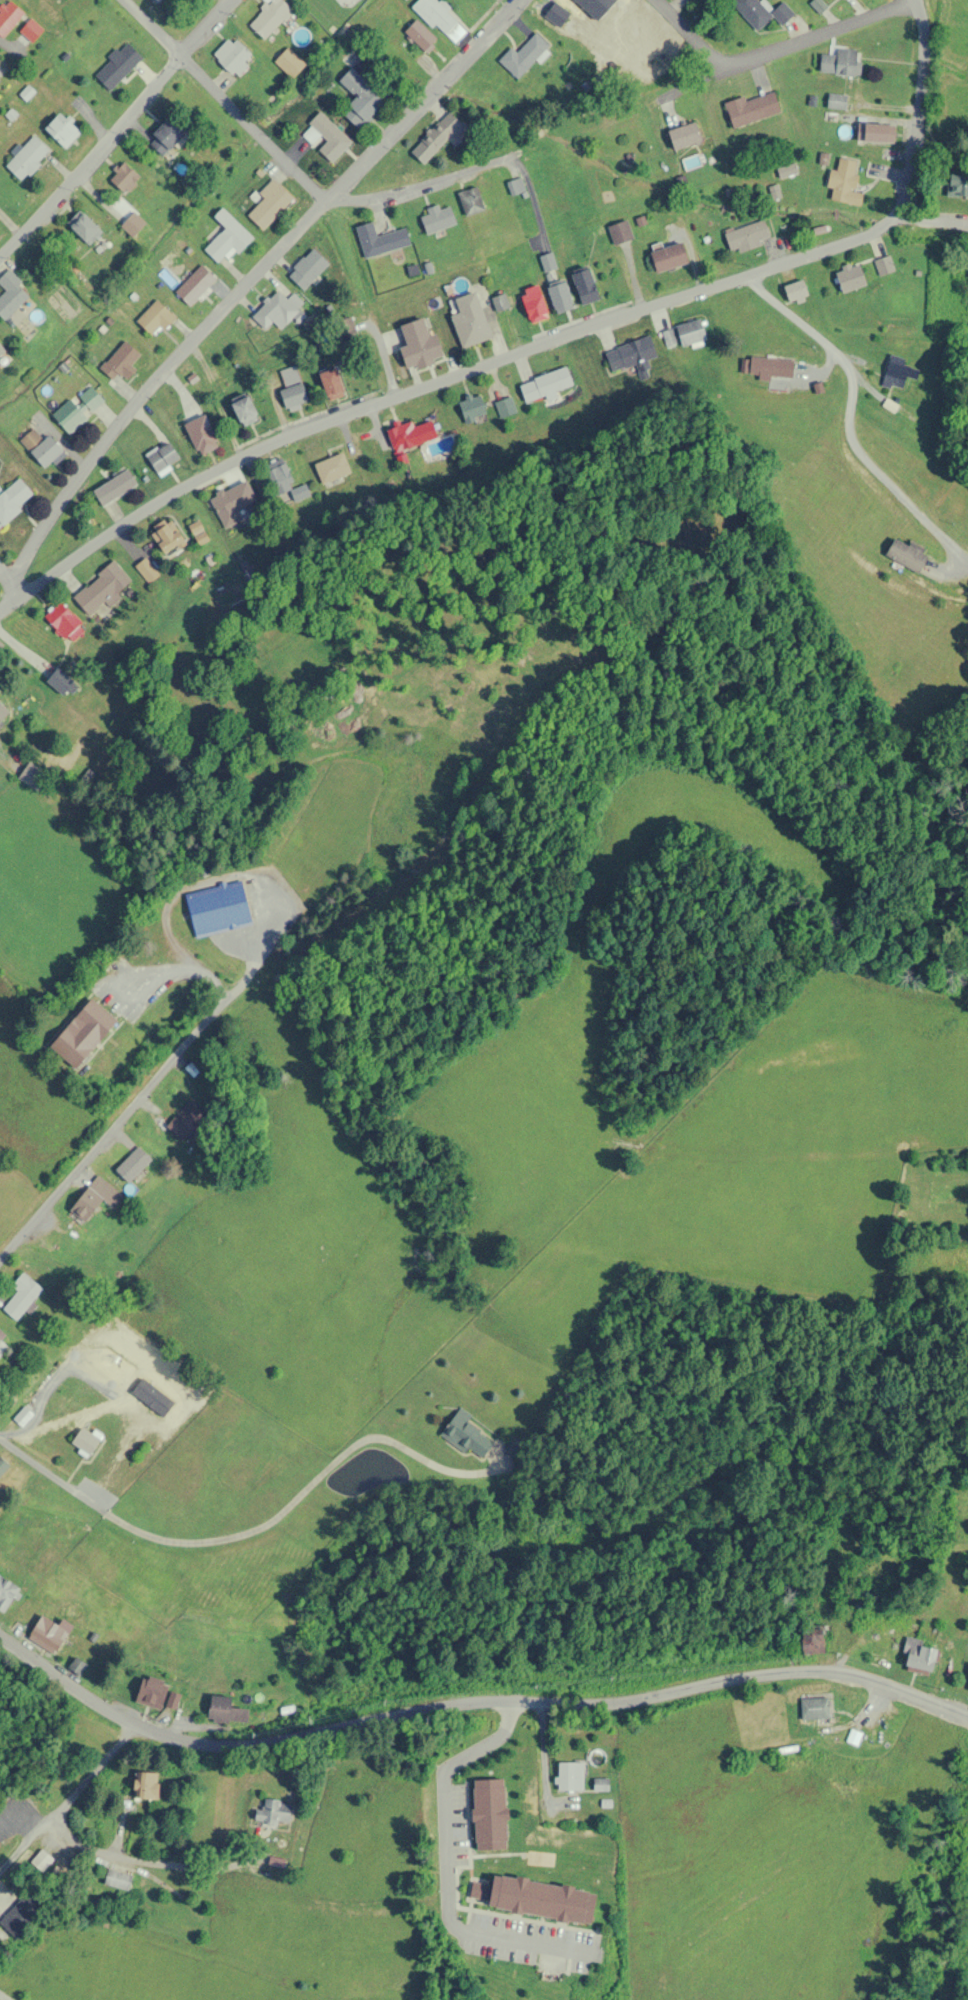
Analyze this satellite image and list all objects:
building: (157, 1)
building: (761, 12)
building: (435, 15)
building: (268, 16)
building: (9, 17)
building: (30, 30)
building: (419, 35)
road: (685, 40)
road: (817, 46)
building: (232, 55)
building: (523, 55)
building: (290, 62)
building: (845, 62)
building: (117, 65)
building: (359, 98)
road: (225, 99)
building: (751, 109)
road: (918, 110)
road: (116, 126)
building: (63, 130)
building: (877, 132)
building: (445, 133)
building: (165, 135)
building: (684, 135)
building: (325, 137)
building: (27, 157)
building: (124, 177)
building: (845, 182)
building: (515, 185)
building: (957, 185)
road: (419, 186)
building: (470, 200)
building: (269, 204)
building: (436, 218)
building: (130, 226)
building: (84, 227)
building: (619, 232)
building: (747, 236)
building: (227, 237)
building: (380, 240)
building: (668, 257)
building: (548, 262)
building: (883, 265)
building: (307, 268)
building: (849, 277)
road: (246, 283)
building: (194, 285)
building: (584, 286)
building: (795, 290)
building: (11, 294)
building: (559, 296)
building: (500, 302)
building: (533, 304)
building: (275, 310)
building: (154, 318)
building: (469, 321)
building: (690, 332)
building: (668, 338)
building: (418, 345)
building: (2, 351)
building: (628, 355)
building: (122, 362)
road: (467, 364)
road: (381, 367)
building: (771, 368)
building: (895, 373)
building: (331, 384)
building: (545, 384)
building: (291, 388)
building: (78, 409)
building: (243, 409)
building: (472, 409)
road: (849, 423)
building: (414, 433)
building: (200, 435)
building: (40, 447)
building: (162, 457)
building: (332, 469)
building: (284, 483)
building: (114, 487)
building: (13, 499)
building: (236, 504)
building: (166, 537)
building: (906, 555)
building: (146, 570)
road: (3, 588)
building: (101, 589)
building: (64, 622)
building: (60, 683)
building: (3, 710)
building: (217, 908)
building: (82, 1034)
road: (124, 1115)
building: (132, 1165)
building: (93, 1199)
building: (21, 1296)
building: (1, 1336)
building: (0, 1348)
building: (465, 1433)
building: (84, 1441)
building: (2, 1465)
road: (256, 1529)
building: (6, 1592)
building: (47, 1634)
building: (812, 1639)
building: (919, 1655)
building: (967, 1688)
building: (151, 1692)
road: (473, 1701)
building: (814, 1707)
building: (224, 1710)
building: (569, 1776)
building: (145, 1785)
building: (601, 1785)
road: (66, 1798)
building: (272, 1811)
building: (489, 1814)
road: (145, 1864)
road: (446, 1865)
building: (117, 1880)
building: (531, 1898)
road: (3, 1996)

